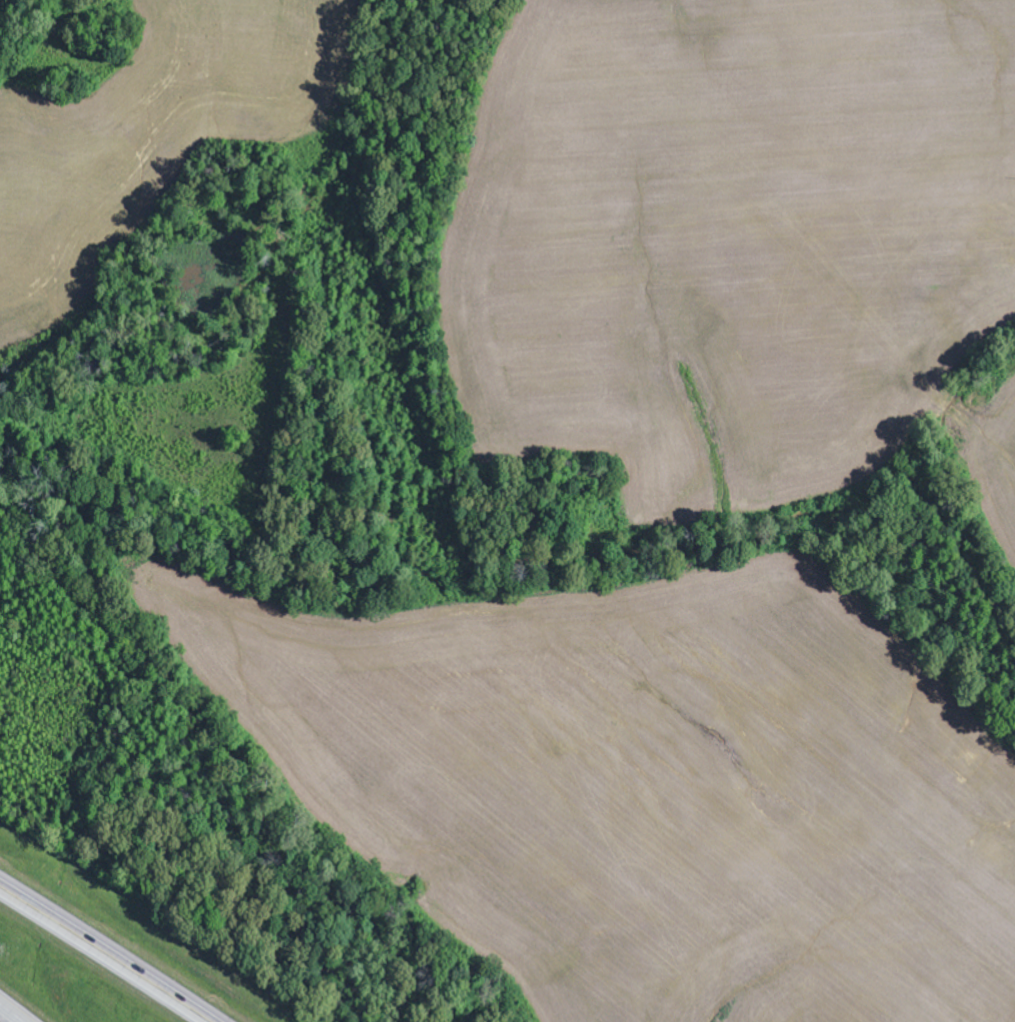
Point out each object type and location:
road: (104, 955)
road: (10, 1014)

